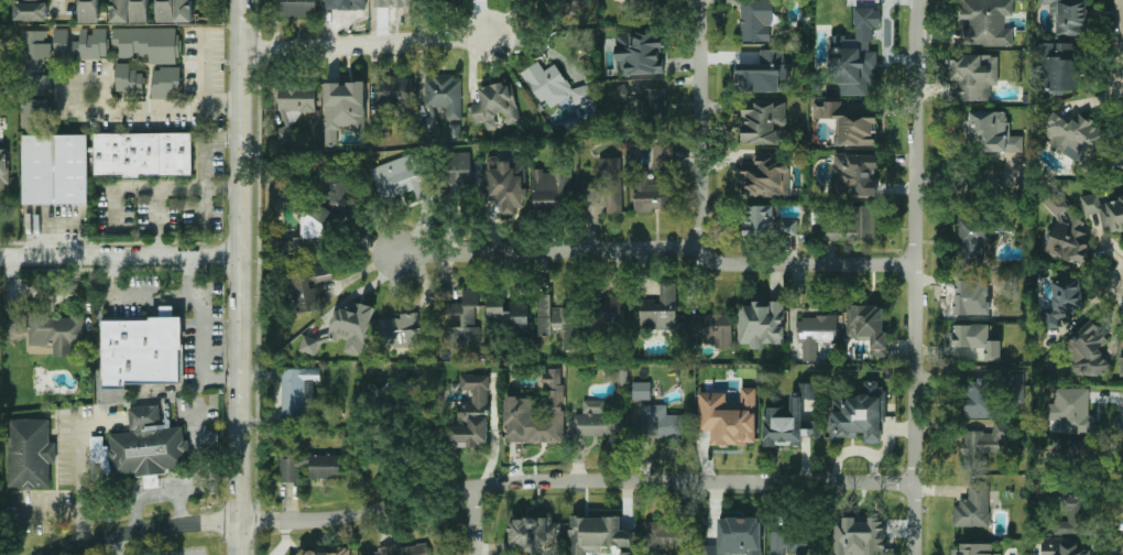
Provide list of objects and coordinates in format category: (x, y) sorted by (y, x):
building: (457, 0)
building: (346, 4)
building: (567, 4)
building: (296, 8)
building: (31, 10)
building: (175, 10)
building: (88, 11)
building: (130, 11)
building: (637, 12)
building: (756, 20)
building: (986, 22)
building: (148, 43)
road: (366, 43)
building: (81, 44)
building: (639, 52)
building: (854, 54)
building: (1058, 66)
building: (763, 73)
road: (207, 76)
building: (972, 76)
building: (35, 77)
building: (128, 78)
building: (166, 81)
building: (553, 85)
building: (620, 95)
building: (296, 97)
building: (440, 99)
building: (495, 105)
building: (652, 106)
building: (344, 108)
road: (133, 111)
building: (762, 122)
building: (848, 122)
road: (699, 123)
building: (991, 132)
building: (1075, 137)
building: (1119, 151)
building: (143, 154)
building: (3, 168)
building: (54, 168)
building: (457, 170)
road: (969, 174)
building: (854, 175)
building: (764, 176)
building: (401, 177)
building: (655, 182)
building: (505, 183)
building: (607, 185)
building: (336, 187)
road: (146, 192)
road: (206, 196)
building: (1104, 210)
building: (757, 220)
road: (156, 221)
building: (847, 225)
building: (791, 227)
building: (310, 229)
building: (1066, 231)
building: (973, 239)
road: (655, 248)
road: (121, 252)
road: (242, 276)
road: (912, 276)
building: (307, 286)
road: (131, 290)
building: (1066, 296)
building: (659, 308)
building: (611, 311)
building: (508, 315)
building: (465, 319)
building: (557, 320)
building: (761, 323)
building: (868, 326)
building: (710, 327)
building: (48, 329)
building: (405, 330)
road: (204, 331)
building: (816, 334)
building: (975, 339)
building: (1090, 349)
building: (140, 351)
building: (1121, 366)
building: (1017, 388)
building: (296, 390)
building: (641, 390)
building: (978, 398)
building: (519, 407)
building: (1071, 410)
building: (470, 414)
building: (859, 414)
building: (729, 416)
building: (592, 421)
building: (662, 421)
building: (791, 421)
building: (985, 438)
building: (140, 447)
building: (30, 453)
building: (310, 466)
road: (78, 471)
road: (484, 489)
building: (972, 505)
building: (1071, 515)
road: (475, 522)
road: (56, 530)
building: (533, 534)
building: (595, 534)
building: (666, 534)
building: (858, 535)
building: (737, 536)
building: (789, 542)
road: (116, 545)
building: (1062, 548)
building: (403, 549)
building: (973, 549)
building: (325, 551)

